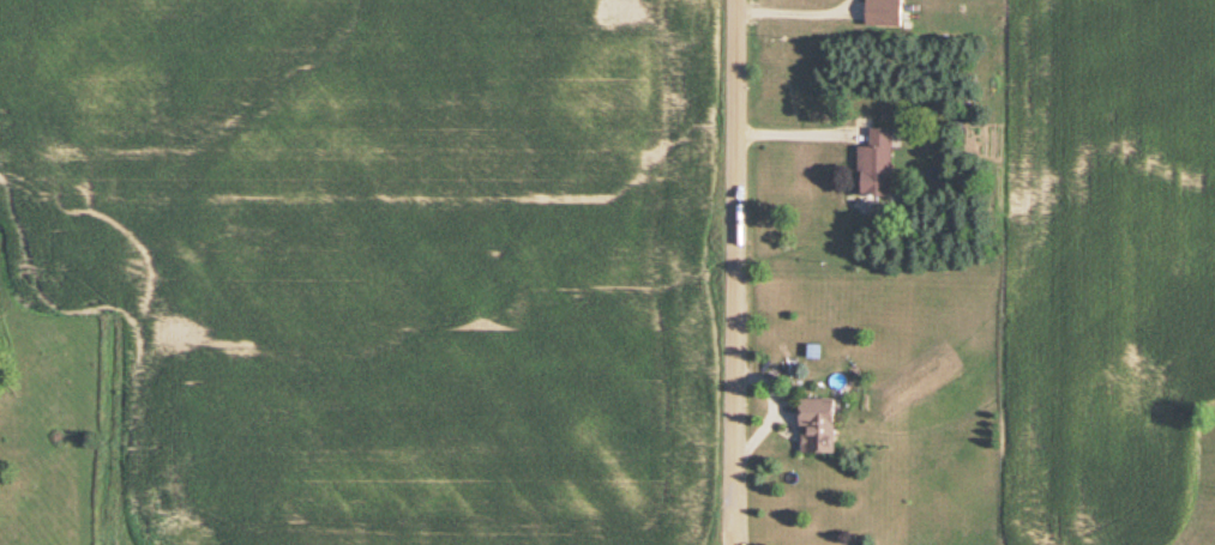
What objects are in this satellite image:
road: (784, 0)
building: (882, 13)
road: (794, 134)
building: (874, 165)
road: (730, 272)
building: (816, 426)

